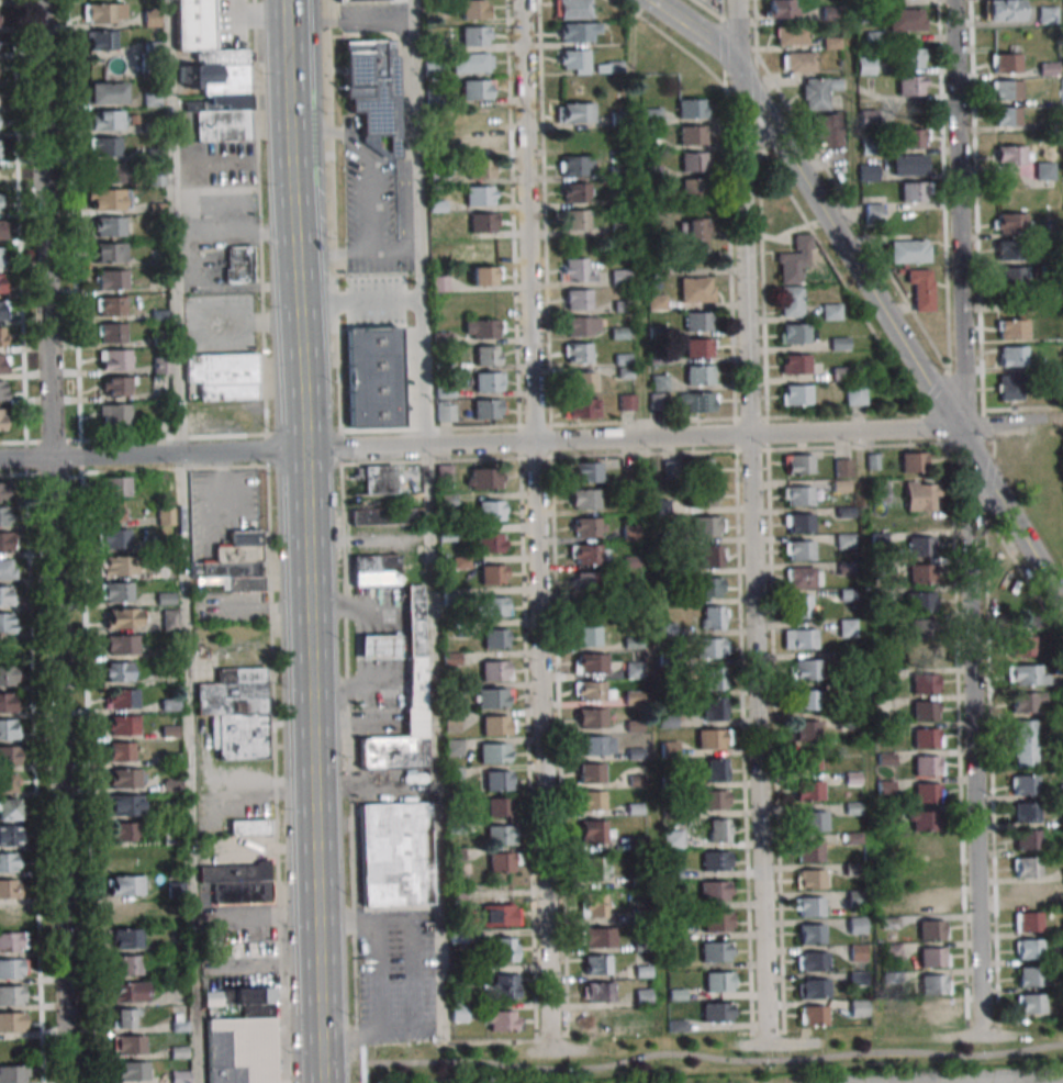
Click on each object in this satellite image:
road: (284, 0)
building: (360, 0)
building: (782, 8)
building: (474, 9)
building: (573, 9)
building: (1004, 10)
building: (104, 13)
building: (1047, 14)
building: (906, 20)
road: (349, 23)
road: (700, 31)
building: (578, 32)
road: (739, 34)
building: (475, 35)
building: (792, 35)
building: (874, 38)
building: (102, 40)
building: (573, 58)
building: (909, 58)
building: (472, 62)
building: (798, 62)
building: (1006, 63)
building: (864, 66)
building: (1048, 69)
building: (213, 76)
building: (909, 85)
building: (372, 87)
building: (478, 89)
building: (1006, 89)
building: (108, 92)
building: (817, 92)
building: (152, 99)
building: (691, 108)
building: (575, 112)
building: (479, 115)
building: (651, 115)
building: (1007, 115)
building: (107, 120)
building: (827, 131)
building: (692, 135)
building: (913, 137)
building: (481, 142)
building: (105, 147)
building: (0, 149)
building: (1011, 158)
building: (693, 161)
building: (910, 164)
building: (575, 166)
building: (481, 168)
building: (1043, 170)
building: (868, 172)
building: (113, 174)
building: (156, 179)
building: (693, 189)
building: (915, 191)
building: (575, 192)
building: (480, 194)
building: (107, 200)
building: (1, 203)
building: (873, 213)
road: (952, 213)
road: (333, 214)
road: (258, 215)
building: (575, 219)
building: (482, 222)
building: (1008, 223)
building: (112, 226)
road: (44, 228)
building: (3, 230)
road: (219, 231)
building: (694, 234)
building: (482, 248)
building: (1007, 249)
building: (911, 250)
building: (110, 253)
building: (1, 257)
building: (794, 260)
road: (181, 264)
building: (238, 264)
building: (575, 270)
building: (485, 276)
building: (1009, 276)
building: (620, 277)
building: (111, 280)
building: (2, 283)
road: (243, 287)
building: (695, 289)
building: (920, 289)
building: (577, 299)
building: (791, 301)
building: (110, 306)
building: (3, 310)
building: (831, 312)
building: (697, 321)
building: (582, 325)
building: (1012, 327)
building: (481, 328)
building: (111, 333)
building: (793, 334)
building: (3, 337)
road: (899, 337)
building: (838, 343)
building: (698, 347)
building: (577, 353)
building: (488, 355)
building: (1011, 356)
building: (114, 359)
building: (3, 364)
building: (794, 364)
building: (161, 365)
building: (698, 375)
building: (223, 376)
building: (488, 381)
building: (582, 381)
building: (116, 386)
building: (1007, 387)
building: (3, 390)
building: (854, 393)
building: (795, 394)
building: (696, 402)
building: (488, 407)
building: (582, 407)
building: (445, 412)
building: (114, 414)
building: (2, 420)
road: (512, 443)
road: (340, 446)
road: (266, 448)
building: (911, 461)
building: (798, 464)
building: (697, 468)
building: (842, 468)
building: (586, 471)
building: (444, 473)
building: (482, 478)
building: (379, 479)
building: (115, 485)
building: (3, 492)
building: (841, 493)
building: (879, 493)
building: (797, 495)
building: (920, 495)
building: (704, 496)
building: (584, 499)
building: (490, 510)
building: (111, 512)
building: (165, 515)
building: (385, 515)
building: (5, 516)
road: (427, 517)
building: (797, 523)
road: (536, 525)
building: (707, 525)
building: (588, 527)
building: (114, 537)
road: (184, 540)
road: (303, 541)
building: (7, 543)
building: (490, 543)
building: (918, 547)
building: (798, 550)
building: (588, 554)
building: (712, 556)
road: (752, 556)
building: (235, 563)
building: (114, 566)
building: (7, 569)
building: (376, 570)
building: (919, 573)
building: (493, 574)
building: (803, 577)
road: (1026, 579)
building: (586, 582)
building: (708, 587)
building: (1008, 589)
building: (116, 591)
building: (5, 595)
building: (917, 602)
building: (494, 606)
building: (801, 606)
road: (355, 607)
building: (122, 617)
building: (714, 617)
road: (377, 621)
building: (7, 622)
building: (169, 622)
building: (413, 622)
building: (847, 627)
building: (920, 628)
building: (586, 636)
building: (495, 638)
building: (799, 638)
building: (121, 644)
building: (710, 647)
building: (1020, 647)
road: (362, 648)
building: (377, 648)
road: (378, 648)
road: (392, 648)
building: (921, 656)
building: (590, 663)
building: (634, 669)
building: (807, 669)
building: (495, 670)
building: (118, 671)
road: (378, 673)
building: (9, 676)
building: (1025, 676)
building: (714, 678)
building: (415, 683)
building: (922, 683)
road: (356, 688)
building: (592, 691)
building: (633, 696)
building: (492, 697)
building: (122, 699)
building: (807, 700)
building: (7, 702)
building: (1022, 702)
building: (715, 708)
building: (922, 711)
building: (237, 712)
building: (591, 717)
building: (414, 723)
building: (123, 725)
building: (496, 725)
building: (9, 729)
building: (806, 729)
road: (972, 730)
building: (713, 738)
building: (924, 738)
building: (1023, 744)
building: (596, 745)
building: (121, 751)
building: (392, 753)
building: (9, 756)
building: (808, 760)
road: (348, 763)
building: (925, 766)
building: (507, 767)
building: (718, 769)
road: (58, 770)
road: (993, 771)
building: (590, 772)
road: (276, 774)
building: (126, 778)
building: (9, 782)
building: (1025, 785)
building: (808, 790)
building: (926, 793)
building: (713, 800)
building: (592, 801)
building: (124, 804)
building: (10, 808)
building: (1026, 813)
building: (507, 820)
building: (815, 820)
building: (922, 820)
building: (249, 827)
building: (718, 830)
building: (124, 831)
building: (592, 831)
building: (11, 835)
building: (672, 839)
building: (1026, 840)
building: (927, 848)
building: (808, 851)
building: (396, 853)
building: (123, 857)
building: (716, 861)
building: (9, 862)
building: (499, 863)
building: (1027, 868)
building: (593, 869)
building: (809, 879)
building: (238, 883)
building: (126, 885)
building: (10, 889)
building: (714, 891)
building: (1027, 895)
building: (926, 902)
building: (593, 904)
building: (808, 906)
building: (125, 912)
building: (500, 915)
building: (717, 920)
road: (214, 922)
building: (1029, 922)
building: (855, 926)
building: (930, 929)
building: (810, 933)
building: (596, 937)
building: (126, 938)
building: (12, 941)
building: (247, 949)
building: (505, 949)
building: (1030, 949)
building: (716, 951)
building: (891, 952)
building: (931, 957)
building: (812, 961)
building: (130, 964)
building: (596, 964)
building: (12, 969)
road: (412, 976)
building: (1030, 976)
road: (380, 978)
building: (718, 981)
building: (931, 984)
building: (506, 985)
building: (814, 989)
building: (130, 992)
building: (598, 992)
building: (12, 995)
building: (212, 998)
building: (1031, 1003)
building: (859, 1008)
building: (717, 1012)
building: (933, 1012)
building: (459, 1013)
building: (812, 1015)
building: (126, 1018)
building: (596, 1019)
building: (502, 1020)
building: (12, 1021)
building: (245, 1040)
building: (131, 1045)
road: (713, 1057)
building: (134, 1070)
road: (363, 1072)
building: (12, 1074)

